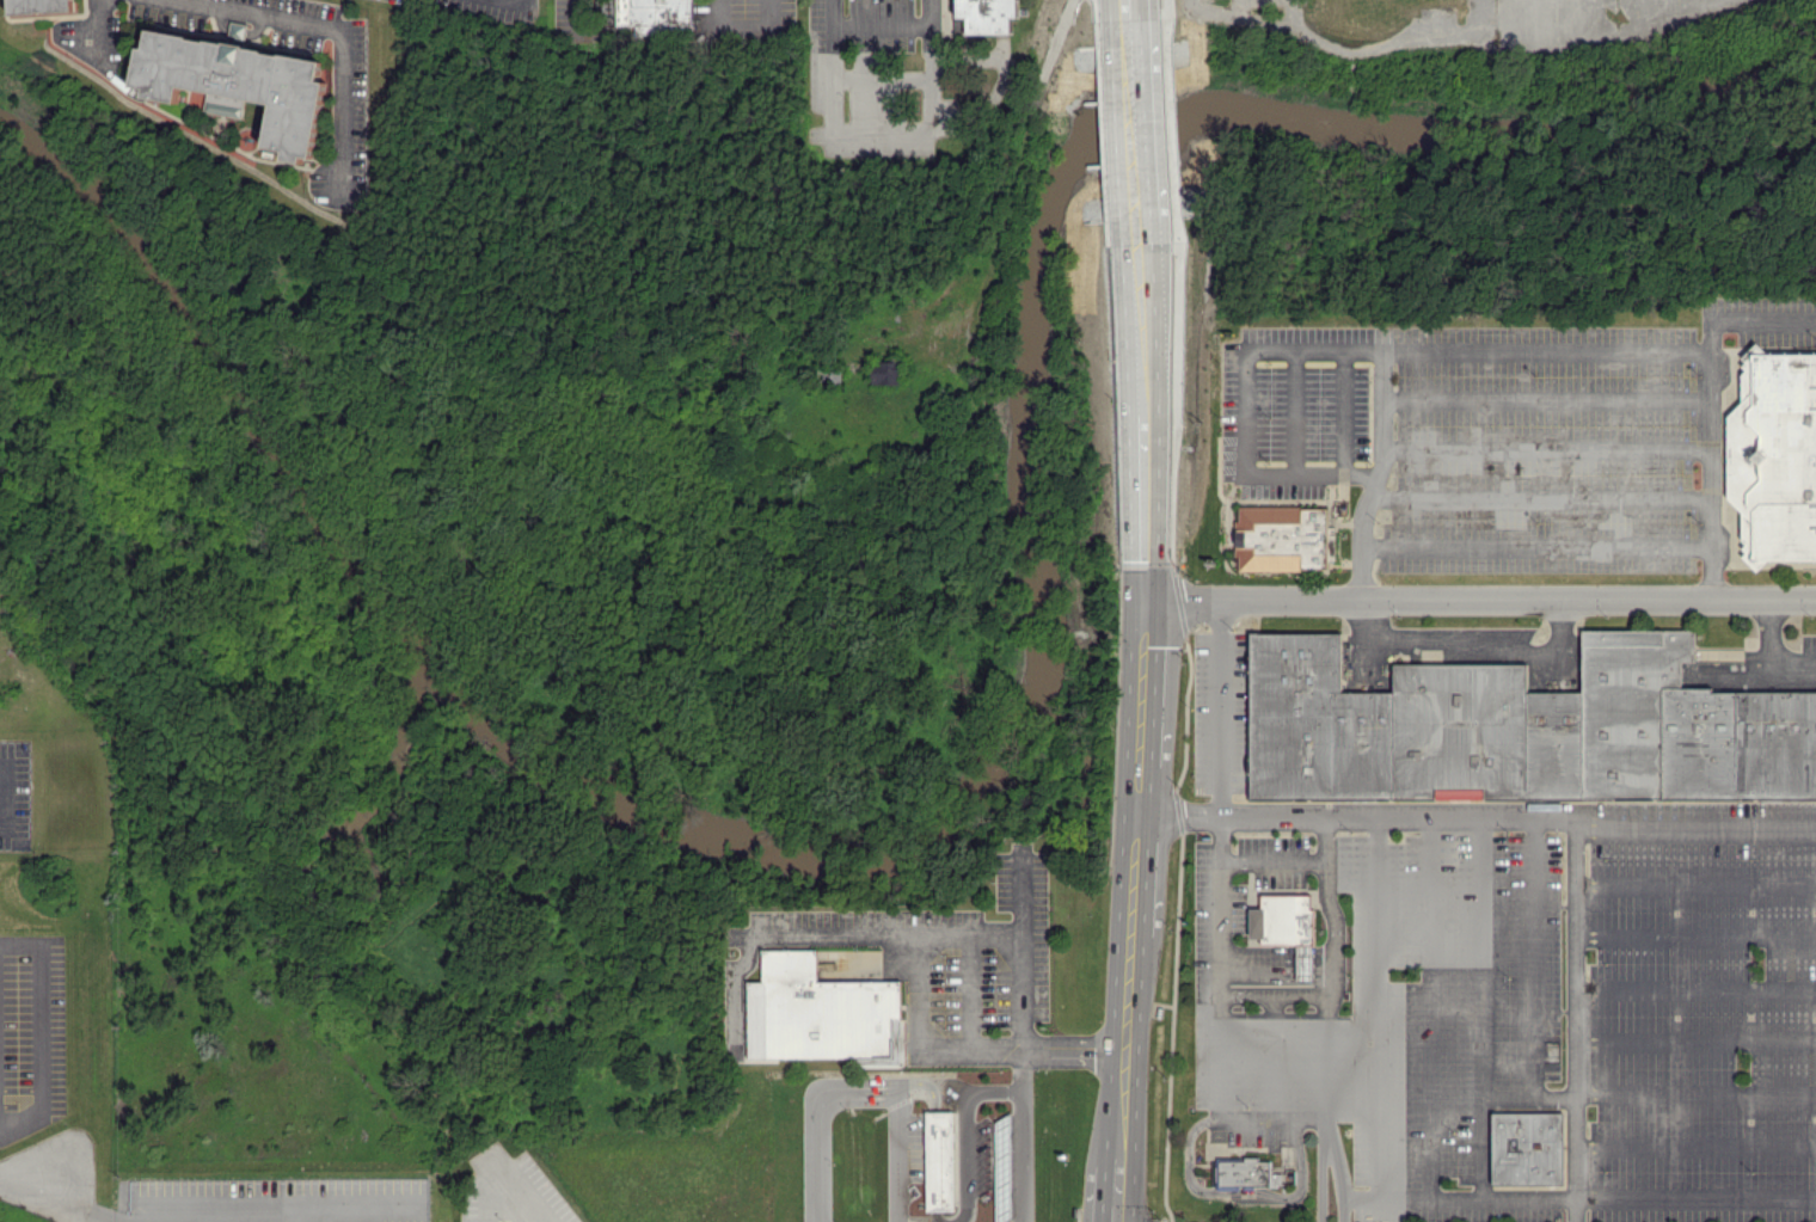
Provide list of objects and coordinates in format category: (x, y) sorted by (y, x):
road: (521, 1)
parking lot: (1270, 2)
building: (45, 6)
parking lot: (486, 8)
road: (1240, 10)
building: (989, 13)
building: (659, 14)
road: (1127, 16)
parking lot: (570, 17)
road: (1295, 17)
parking lot: (748, 19)
road: (99, 24)
road: (883, 26)
road: (746, 30)
building: (238, 31)
road: (338, 31)
road: (583, 32)
road: (1345, 50)
parking lot: (877, 76)
road: (883, 81)
building: (245, 82)
parking lot: (350, 110)
road: (1037, 121)
road: (882, 129)
road: (1133, 130)
road: (1141, 336)
road: (1418, 348)
road: (919, 354)
building: (883, 371)
road: (1545, 398)
road: (1708, 404)
road: (1241, 406)
road: (1292, 411)
road: (1342, 411)
road: (1544, 447)
building: (1774, 453)
road: (1538, 495)
road: (1146, 521)
building: (1282, 536)
road: (1533, 544)
traffic signals: (1148, 598)
road: (1481, 598)
road: (1470, 645)
road: (1768, 658)
road: (1146, 682)
road: (1222, 707)
building: (1522, 727)
river: (1004, 751)
road: (1143, 792)
road: (6, 798)
road: (1358, 817)
road: (1695, 831)
road: (1275, 859)
road: (1141, 873)
road: (1694, 884)
building: (1287, 926)
road: (882, 932)
road: (1694, 934)
road: (1330, 957)
road: (1378, 957)
road: (1431, 957)
road: (1484, 957)
road: (1533, 957)
road: (1023, 962)
road: (1135, 988)
road: (1694, 989)
road: (916, 990)
road: (970, 990)
road: (1275, 997)
building: (821, 1012)
road: (1573, 1019)
road: (41, 1030)
road: (1694, 1039)
road: (1050, 1046)
road: (1275, 1046)
road: (944, 1049)
road: (1694, 1095)
road: (1128, 1097)
road: (1254, 1097)
road: (879, 1100)
road: (1257, 1117)
road: (1694, 1146)
building: (1528, 1147)
road: (1432, 1148)
road: (1479, 1148)
road: (1125, 1156)
road: (1321, 1159)
road: (1340, 1159)
building: (939, 1160)
road: (976, 1162)
building: (1002, 1168)
building: (1245, 1171)
road: (27, 1184)
road: (507, 1193)
road: (1123, 1193)
road: (1241, 1195)
road: (1694, 1196)
road: (1424, 1199)
road: (1361, 1200)
road: (90, 1203)
road: (326, 1206)

